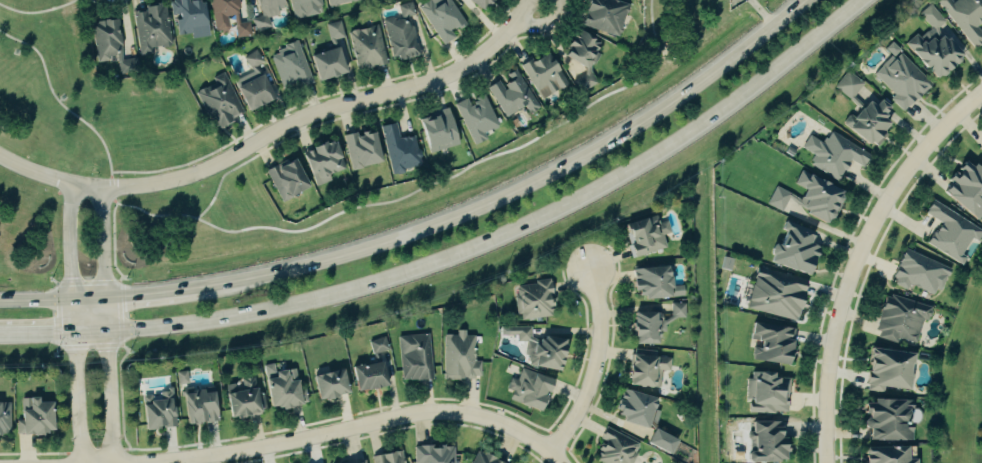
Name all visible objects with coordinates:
building: (337, 2)
building: (481, 3)
building: (305, 8)
road: (38, 13)
building: (263, 13)
building: (603, 15)
building: (228, 17)
building: (188, 18)
building: (441, 18)
building: (964, 18)
building: (930, 19)
road: (544, 24)
building: (150, 28)
building: (334, 30)
building: (402, 33)
building: (110, 46)
building: (366, 47)
building: (891, 50)
building: (579, 52)
building: (931, 54)
building: (252, 59)
building: (345, 61)
building: (325, 64)
building: (290, 67)
building: (543, 75)
building: (900, 81)
building: (847, 85)
building: (251, 90)
building: (512, 94)
road: (56, 100)
building: (218, 102)
road: (328, 110)
building: (476, 118)
building: (866, 122)
building: (435, 131)
building: (980, 147)
building: (360, 149)
building: (399, 150)
building: (834, 156)
building: (321, 162)
road: (111, 177)
road: (50, 178)
building: (286, 179)
building: (965, 189)
road: (524, 190)
building: (808, 199)
building: (981, 223)
road: (514, 228)
building: (949, 233)
building: (643, 236)
road: (72, 242)
building: (792, 249)
road: (109, 257)
road: (861, 259)
building: (918, 274)
building: (648, 284)
road: (153, 292)
building: (774, 295)
traffic signals: (111, 296)
road: (93, 297)
road: (37, 299)
traffic signals: (75, 299)
building: (533, 301)
building: (677, 311)
road: (75, 313)
building: (898, 321)
building: (644, 325)
traffic signals: (112, 326)
road: (94, 327)
traffic signals: (76, 328)
road: (7, 329)
road: (45, 329)
building: (769, 344)
building: (537, 349)
building: (415, 358)
building: (458, 358)
road: (597, 368)
building: (645, 370)
building: (886, 370)
building: (365, 377)
building: (180, 378)
building: (327, 386)
building: (526, 390)
building: (283, 391)
building: (765, 393)
road: (113, 394)
road: (78, 395)
building: (243, 401)
building: (198, 408)
building: (156, 412)
building: (33, 418)
building: (640, 419)
building: (4, 420)
building: (887, 421)
road: (350, 427)
building: (764, 442)
building: (612, 449)
building: (432, 454)
building: (886, 455)
building: (387, 458)
road: (556, 458)
building: (479, 459)
road: (190, 461)
building: (359, 462)
building: (362, 462)

